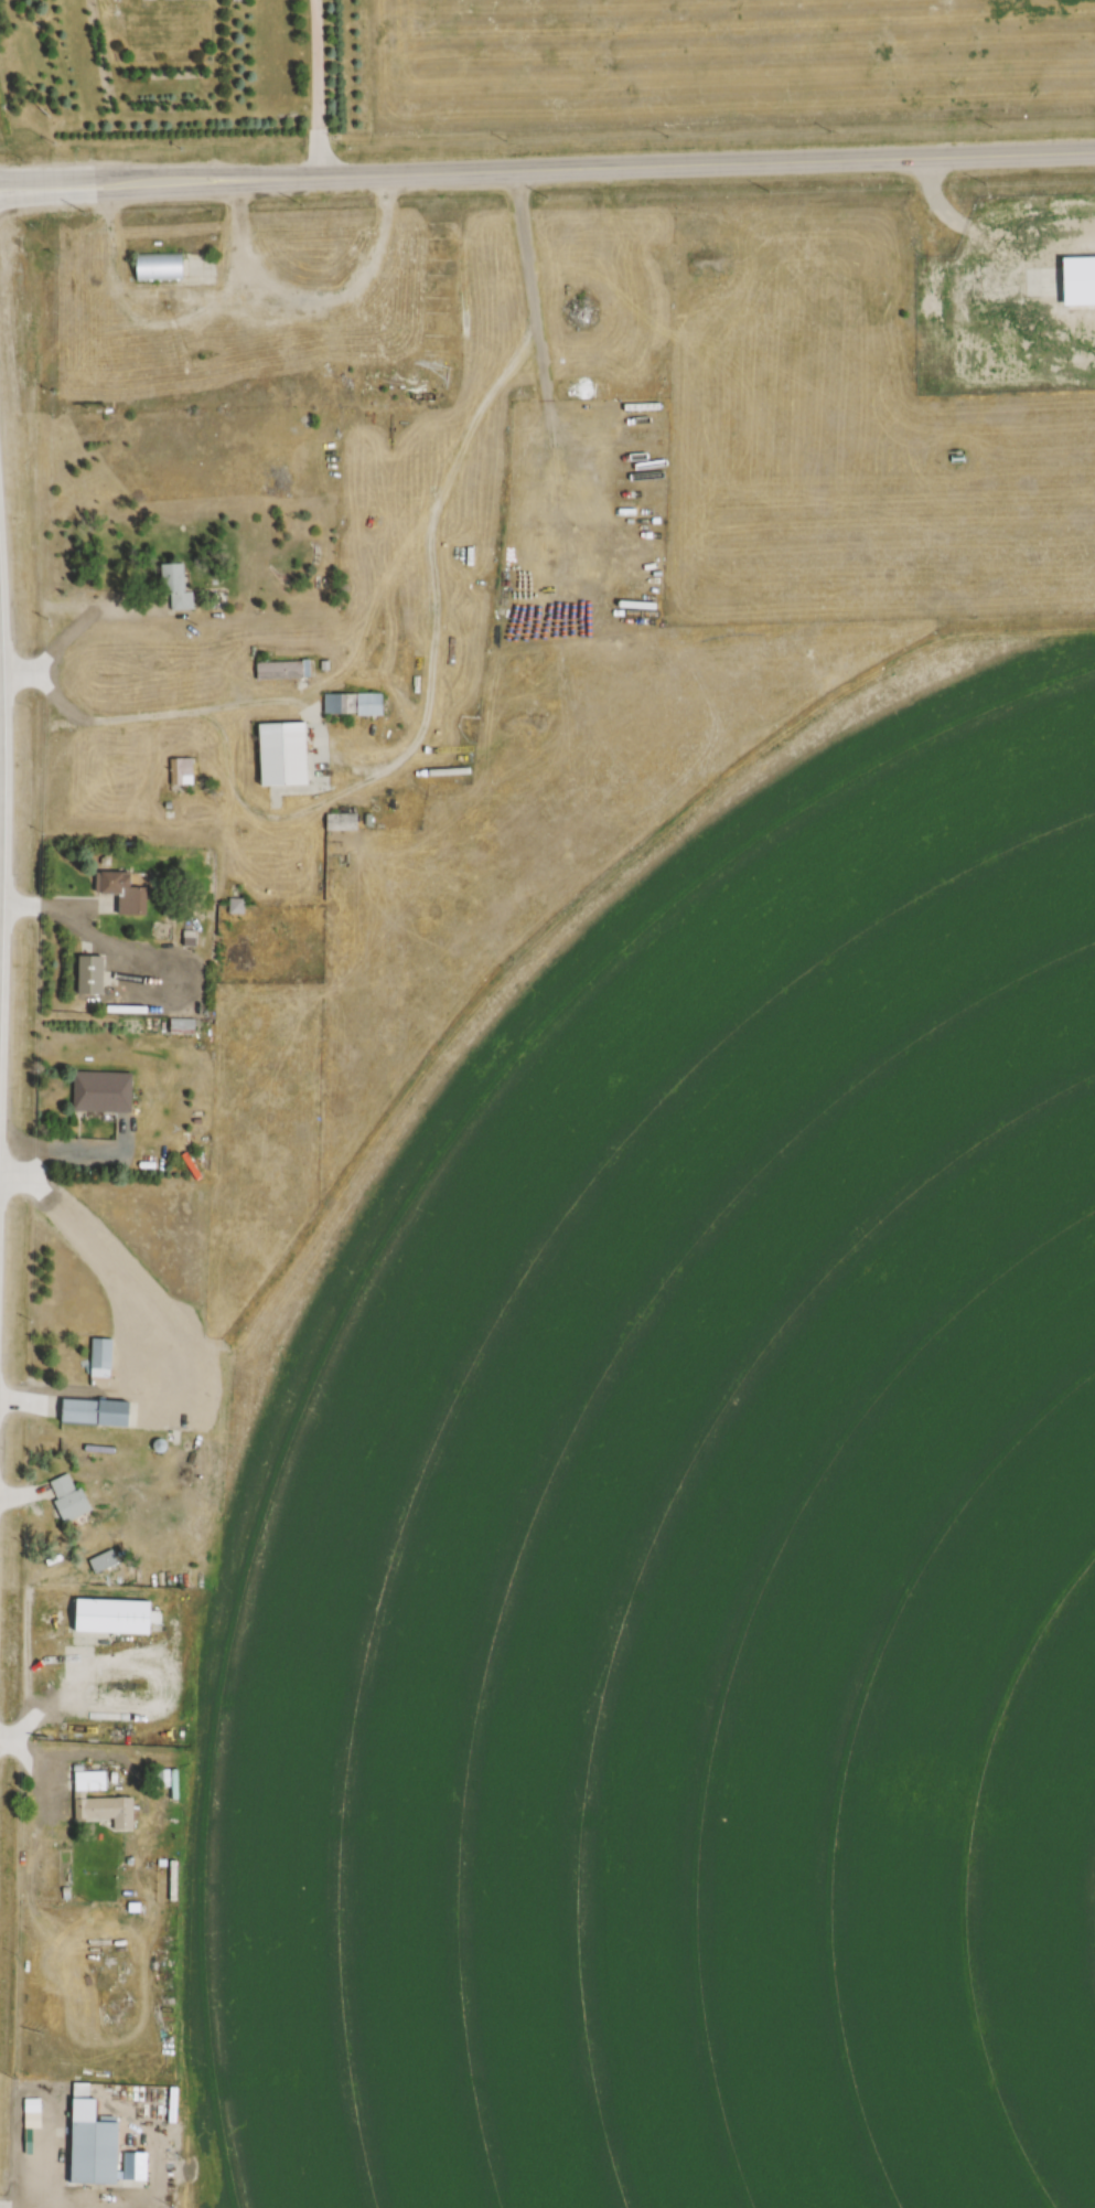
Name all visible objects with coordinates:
road: (314, 79)
road: (707, 150)
road: (159, 156)
road: (159, 175)
road: (983, 225)
building: (159, 266)
building: (1081, 279)
building: (971, 370)
building: (633, 444)
road: (383, 574)
building: (176, 585)
road: (71, 605)
building: (281, 670)
building: (354, 703)
building: (286, 754)
building: (181, 771)
building: (122, 890)
road: (17, 939)
building: (90, 973)
building: (101, 1091)
building: (100, 1356)
building: (97, 1411)
building: (68, 1497)
building: (101, 1560)
building: (115, 1615)
building: (105, 1811)
building: (32, 2113)
building: (93, 2142)
building: (135, 2166)

